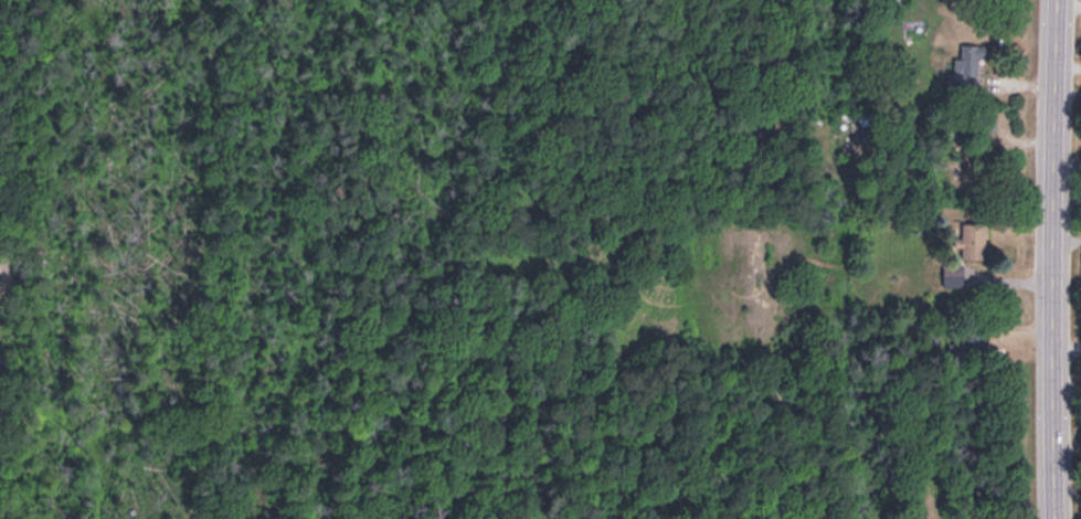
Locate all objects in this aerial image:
building: (964, 66)
building: (972, 237)
road: (1049, 258)
building: (952, 272)
building: (969, 339)

